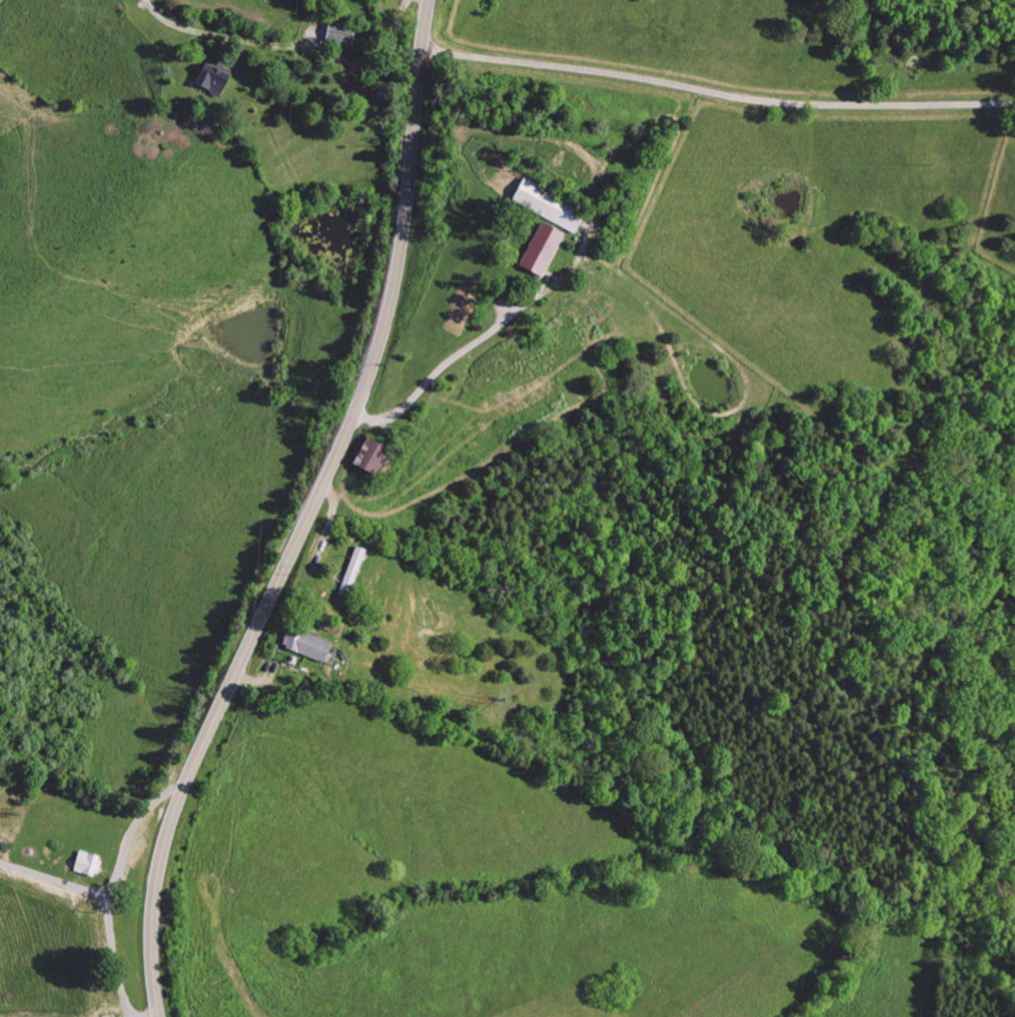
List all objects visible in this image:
building: (336, 32)
building: (210, 75)
road: (718, 91)
building: (536, 248)
road: (481, 342)
building: (366, 455)
road: (311, 515)
building: (350, 571)
building: (303, 644)
building: (85, 863)
road: (120, 864)

